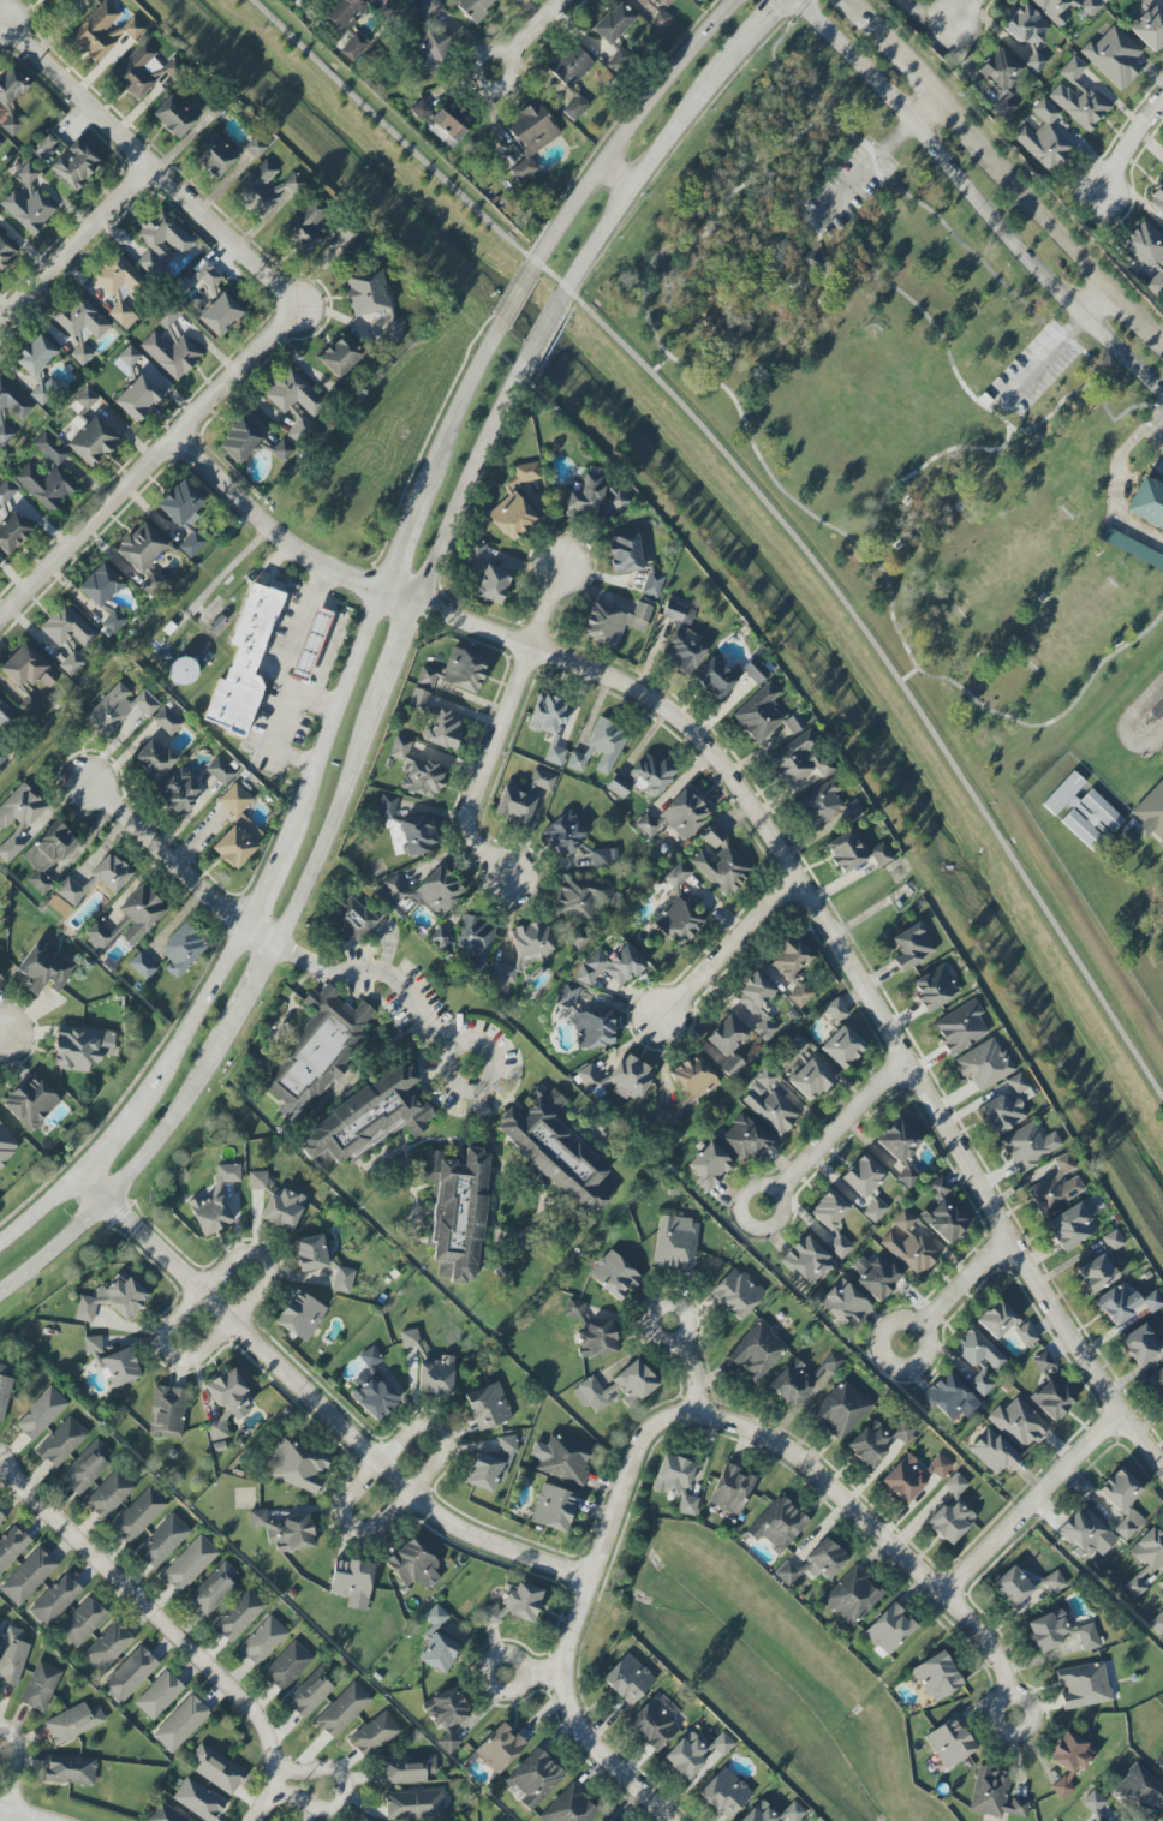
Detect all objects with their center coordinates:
building: (1147, 0)
building: (56, 1)
building: (1104, 1)
building: (643, 2)
building: (666, 2)
building: (393, 4)
building: (475, 7)
building: (429, 8)
traffic signals: (773, 8)
road: (967, 13)
building: (1055, 14)
road: (0, 19)
building: (660, 20)
building: (346, 23)
building: (613, 23)
road: (537, 28)
building: (131, 29)
building: (1150, 29)
building: (1025, 30)
building: (96, 32)
road: (749, 36)
road: (891, 42)
building: (430, 50)
building: (1114, 56)
building: (1036, 62)
building: (569, 68)
road: (779, 70)
building: (1000, 70)
building: (138, 71)
building: (11, 86)
road: (935, 91)
building: (1078, 96)
building: (1003, 107)
building: (574, 108)
road: (926, 111)
building: (173, 118)
building: (443, 120)
building: (10, 126)
road: (965, 126)
road: (627, 132)
building: (530, 137)
building: (1044, 138)
building: (1, 143)
building: (256, 147)
road: (1129, 147)
building: (214, 156)
road: (143, 159)
building: (76, 165)
road: (864, 172)
road: (616, 174)
road: (633, 183)
parking lot: (849, 187)
building: (266, 190)
road: (978, 197)
building: (1157, 198)
building: (26, 201)
building: (0, 214)
road: (1050, 221)
building: (305, 229)
road: (73, 240)
building: (161, 244)
road: (821, 247)
building: (4, 252)
building: (1147, 255)
building: (209, 276)
road: (515, 297)
building: (372, 301)
road: (1098, 301)
road: (914, 305)
road: (1135, 312)
building: (168, 315)
building: (220, 315)
road: (646, 316)
building: (80, 326)
road: (544, 333)
road: (1162, 338)
building: (171, 354)
building: (35, 356)
building: (129, 357)
building: (340, 357)
road: (1045, 357)
parking lot: (1036, 369)
building: (293, 394)
building: (85, 399)
building: (137, 399)
building: (13, 400)
park: (911, 405)
road: (457, 407)
road: (1001, 407)
road: (1156, 431)
building: (5, 435)
building: (91, 442)
building: (239, 442)
building: (50, 448)
building: (281, 452)
road: (150, 461)
road: (924, 465)
building: (523, 474)
road: (469, 480)
road: (1116, 483)
building: (43, 486)
building: (6, 491)
building: (596, 497)
building: (1146, 503)
road: (765, 504)
building: (184, 515)
building: (512, 517)
building: (12, 532)
road: (401, 543)
building: (141, 548)
building: (1132, 548)
building: (625, 554)
road: (317, 579)
building: (652, 583)
building: (151, 584)
building: (491, 585)
building: (100, 586)
building: (112, 622)
building: (613, 622)
building: (68, 638)
road: (332, 639)
building: (680, 640)
building: (310, 644)
road: (393, 650)
road: (287, 657)
building: (244, 663)
building: (755, 670)
building: (455, 673)
building: (26, 675)
building: (715, 679)
building: (418, 698)
road: (316, 703)
building: (118, 709)
building: (759, 714)
building: (548, 716)
road: (334, 720)
building: (166, 721)
building: (793, 723)
road: (1126, 726)
building: (5, 728)
building: (443, 728)
road: (501, 728)
building: (606, 744)
building: (399, 748)
building: (1161, 750)
building: (554, 756)
building: (153, 759)
building: (578, 760)
building: (797, 762)
building: (220, 771)
building: (642, 777)
building: (422, 780)
building: (542, 780)
building: (179, 793)
building: (827, 805)
building: (514, 806)
building: (386, 807)
building: (1081, 810)
building: (1150, 813)
building: (675, 817)
building: (18, 822)
road: (324, 823)
building: (237, 830)
building: (417, 835)
building: (714, 837)
building: (573, 841)
road: (765, 844)
building: (845, 852)
building: (48, 854)
building: (881, 854)
road: (169, 856)
building: (722, 870)
building: (676, 874)
building: (90, 884)
road: (264, 889)
building: (427, 891)
building: (581, 897)
building: (400, 904)
building: (352, 919)
building: (678, 921)
building: (579, 938)
building: (475, 939)
building: (531, 939)
building: (911, 947)
building: (183, 950)
road: (728, 955)
building: (142, 966)
building: (610, 967)
building: (43, 968)
building: (793, 968)
road: (372, 971)
building: (501, 978)
building: (0, 980)
road: (249, 989)
building: (935, 989)
building: (753, 993)
building: (835, 1009)
road: (192, 1019)
building: (585, 1019)
building: (960, 1027)
road: (2, 1035)
building: (726, 1037)
building: (842, 1046)
building: (80, 1047)
building: (317, 1051)
building: (983, 1064)
building: (628, 1076)
building: (588, 1077)
building: (693, 1077)
building: (765, 1079)
building: (810, 1080)
building: (1018, 1083)
building: (30, 1103)
building: (771, 1111)
building: (1004, 1111)
building: (667, 1115)
building: (368, 1121)
road: (830, 1135)
road: (107, 1138)
building: (744, 1139)
building: (7, 1146)
building: (1028, 1146)
building: (900, 1150)
building: (556, 1151)
building: (709, 1166)
road: (127, 1175)
building: (863, 1176)
building: (257, 1181)
building: (1056, 1186)
building: (214, 1202)
road: (40, 1204)
building: (281, 1210)
building: (875, 1210)
building: (458, 1211)
building: (943, 1213)
building: (831, 1222)
building: (1070, 1226)
building: (1113, 1241)
building: (675, 1244)
building: (907, 1246)
building: (807, 1260)
building: (322, 1262)
building: (1096, 1273)
building: (614, 1274)
building: (876, 1277)
road: (956, 1289)
road: (204, 1290)
building: (736, 1294)
building: (113, 1298)
building: (1152, 1302)
building: (1117, 1303)
building: (845, 1304)
building: (574, 1309)
building: (300, 1315)
building: (996, 1319)
building: (1025, 1335)
building: (408, 1337)
building: (597, 1339)
building: (1140, 1344)
building: (757, 1351)
building: (370, 1357)
building: (980, 1360)
building: (112, 1362)
road: (691, 1363)
building: (1043, 1363)
building: (436, 1375)
building: (803, 1380)
building: (1156, 1383)
building: (615, 1386)
building: (4, 1390)
building: (229, 1393)
building: (372, 1397)
building: (950, 1398)
building: (1052, 1398)
road: (315, 1404)
building: (488, 1407)
building: (841, 1409)
building: (167, 1413)
building: (41, 1414)
building: (1018, 1423)
building: (216, 1429)
building: (877, 1441)
building: (61, 1443)
building: (506, 1445)
building: (992, 1452)
building: (561, 1458)
road: (382, 1463)
building: (297, 1465)
building: (87, 1467)
building: (483, 1473)
building: (913, 1475)
building: (675, 1482)
building: (729, 1488)
building: (1120, 1489)
building: (108, 1494)
road: (1033, 1504)
building: (553, 1507)
building: (952, 1513)
building: (138, 1515)
building: (1, 1517)
building: (1128, 1524)
road: (610, 1526)
building: (781, 1526)
building: (284, 1530)
building: (1087, 1534)
road: (885, 1535)
building: (162, 1541)
building: (12, 1546)
building: (1145, 1560)
building: (189, 1564)
building: (413, 1564)
building: (815, 1564)
building: (28, 1576)
building: (351, 1582)
building: (1052, 1583)
building: (1161, 1584)
building: (1012, 1587)
building: (213, 1589)
building: (852, 1596)
building: (54, 1600)
building: (514, 1605)
road: (150, 1610)
building: (239, 1614)
building: (436, 1617)
building: (83, 1622)
building: (1158, 1624)
building: (888, 1630)
building: (1060, 1632)
building: (262, 1641)
building: (107, 1647)
building: (439, 1653)
building: (12, 1655)
building: (287, 1666)
road: (532, 1673)
building: (130, 1674)
building: (937, 1677)
building: (628, 1679)
building: (1083, 1685)
building: (40, 1686)
building: (309, 1694)
building: (159, 1695)
building: (342, 1710)
building: (447, 1716)
building: (73, 1723)
building: (180, 1724)
building: (652, 1725)
building: (375, 1733)
building: (949, 1743)
building: (499, 1749)
road: (598, 1756)
building: (697, 1756)
building: (1068, 1761)
building: (1159, 1761)
road: (14, 1768)
building: (70, 1769)
building: (217, 1769)
building: (406, 1769)
building: (533, 1779)
road: (264, 1790)
road: (345, 1790)
building: (1138, 1792)
building: (726, 1793)
building: (995, 1795)
building: (198, 1801)
building: (1093, 1803)
building: (413, 1805)
building: (569, 1807)
building: (793, 1811)
building: (166, 1814)
building: (759, 1814)
road: (13, 1816)
building: (365, 1819)
building: (607, 1819)

